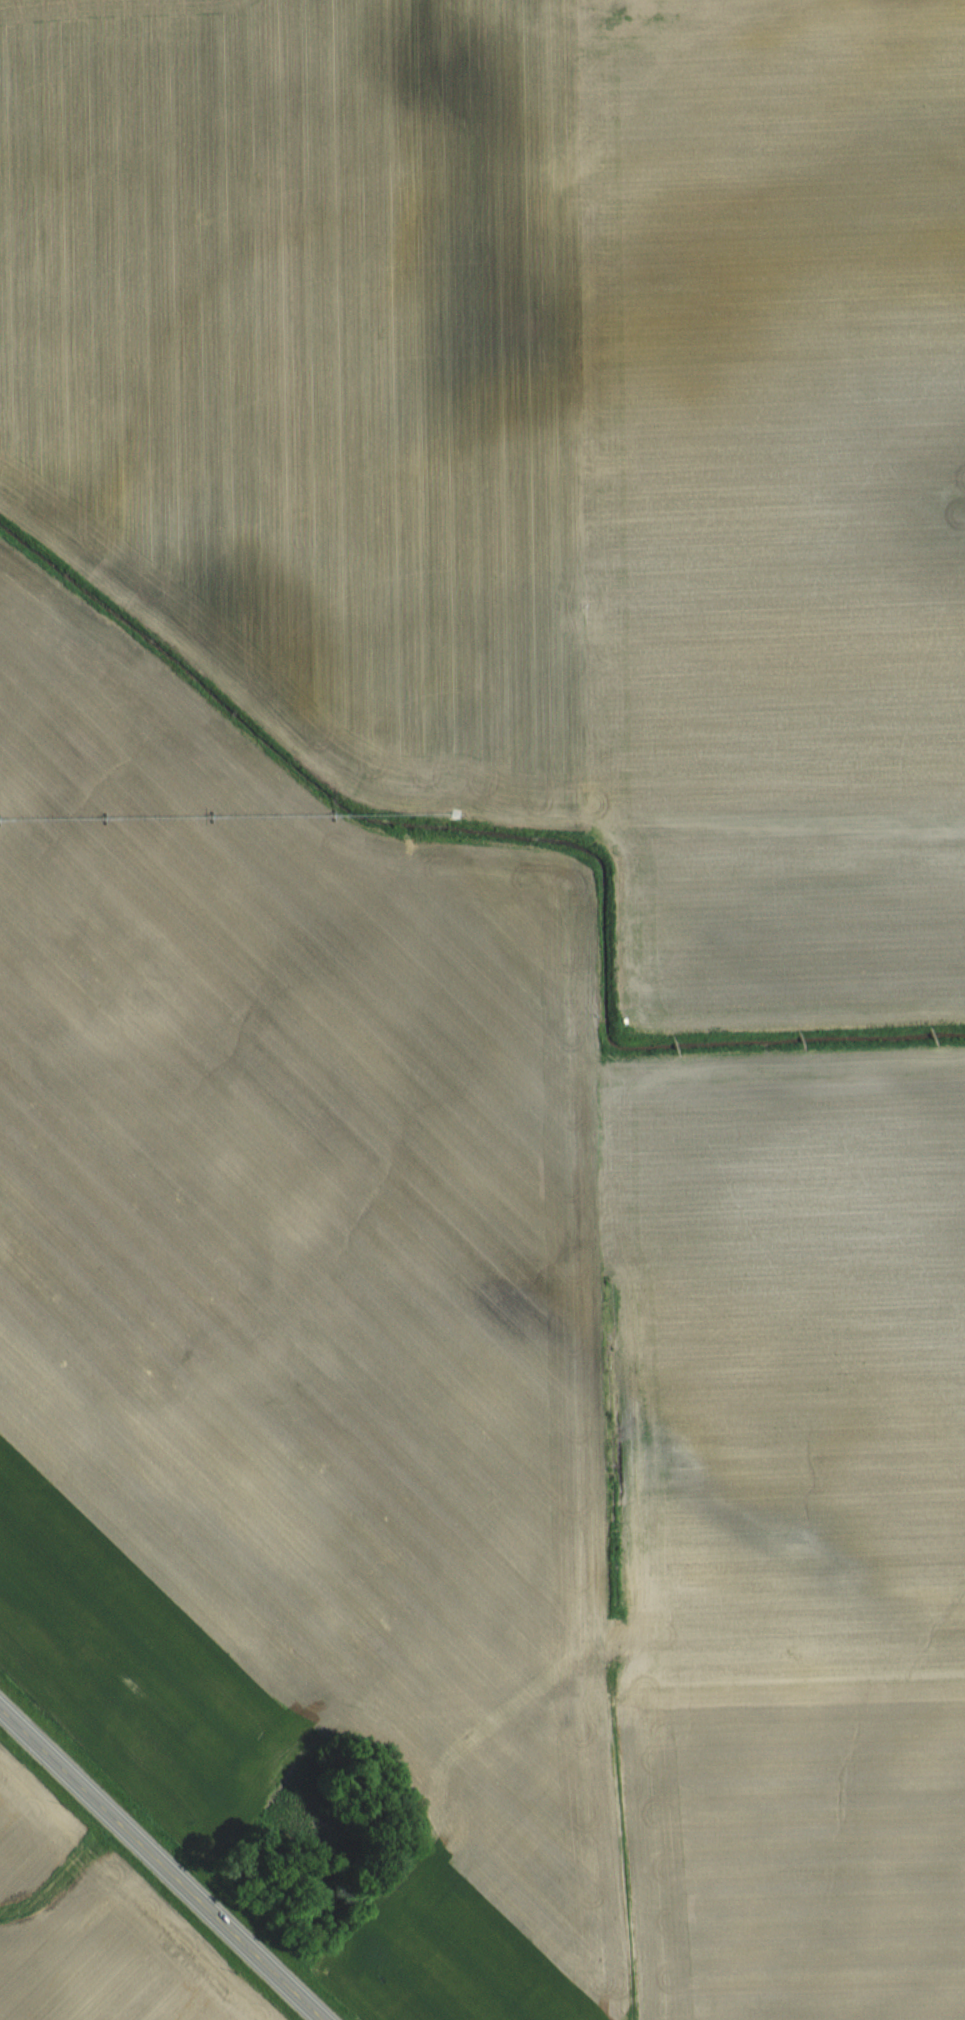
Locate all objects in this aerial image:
road: (163, 1862)

